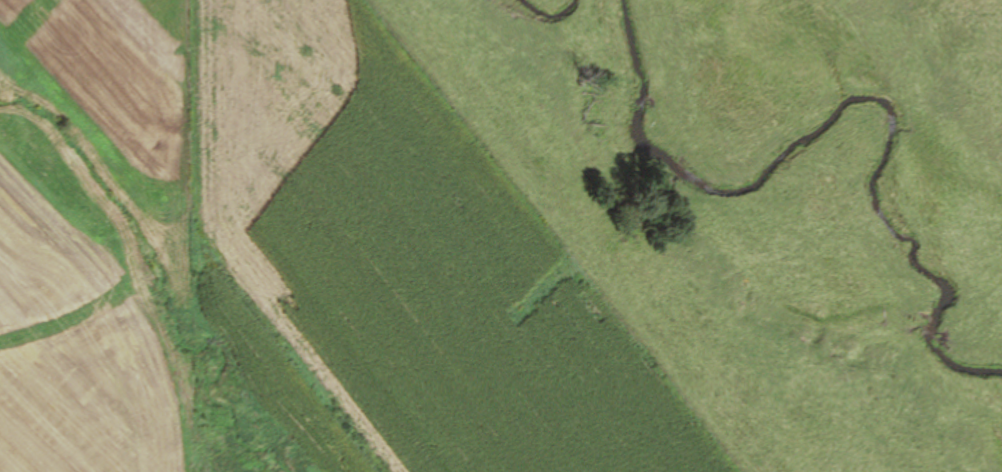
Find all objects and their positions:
river: (543, 11)
river: (841, 109)

